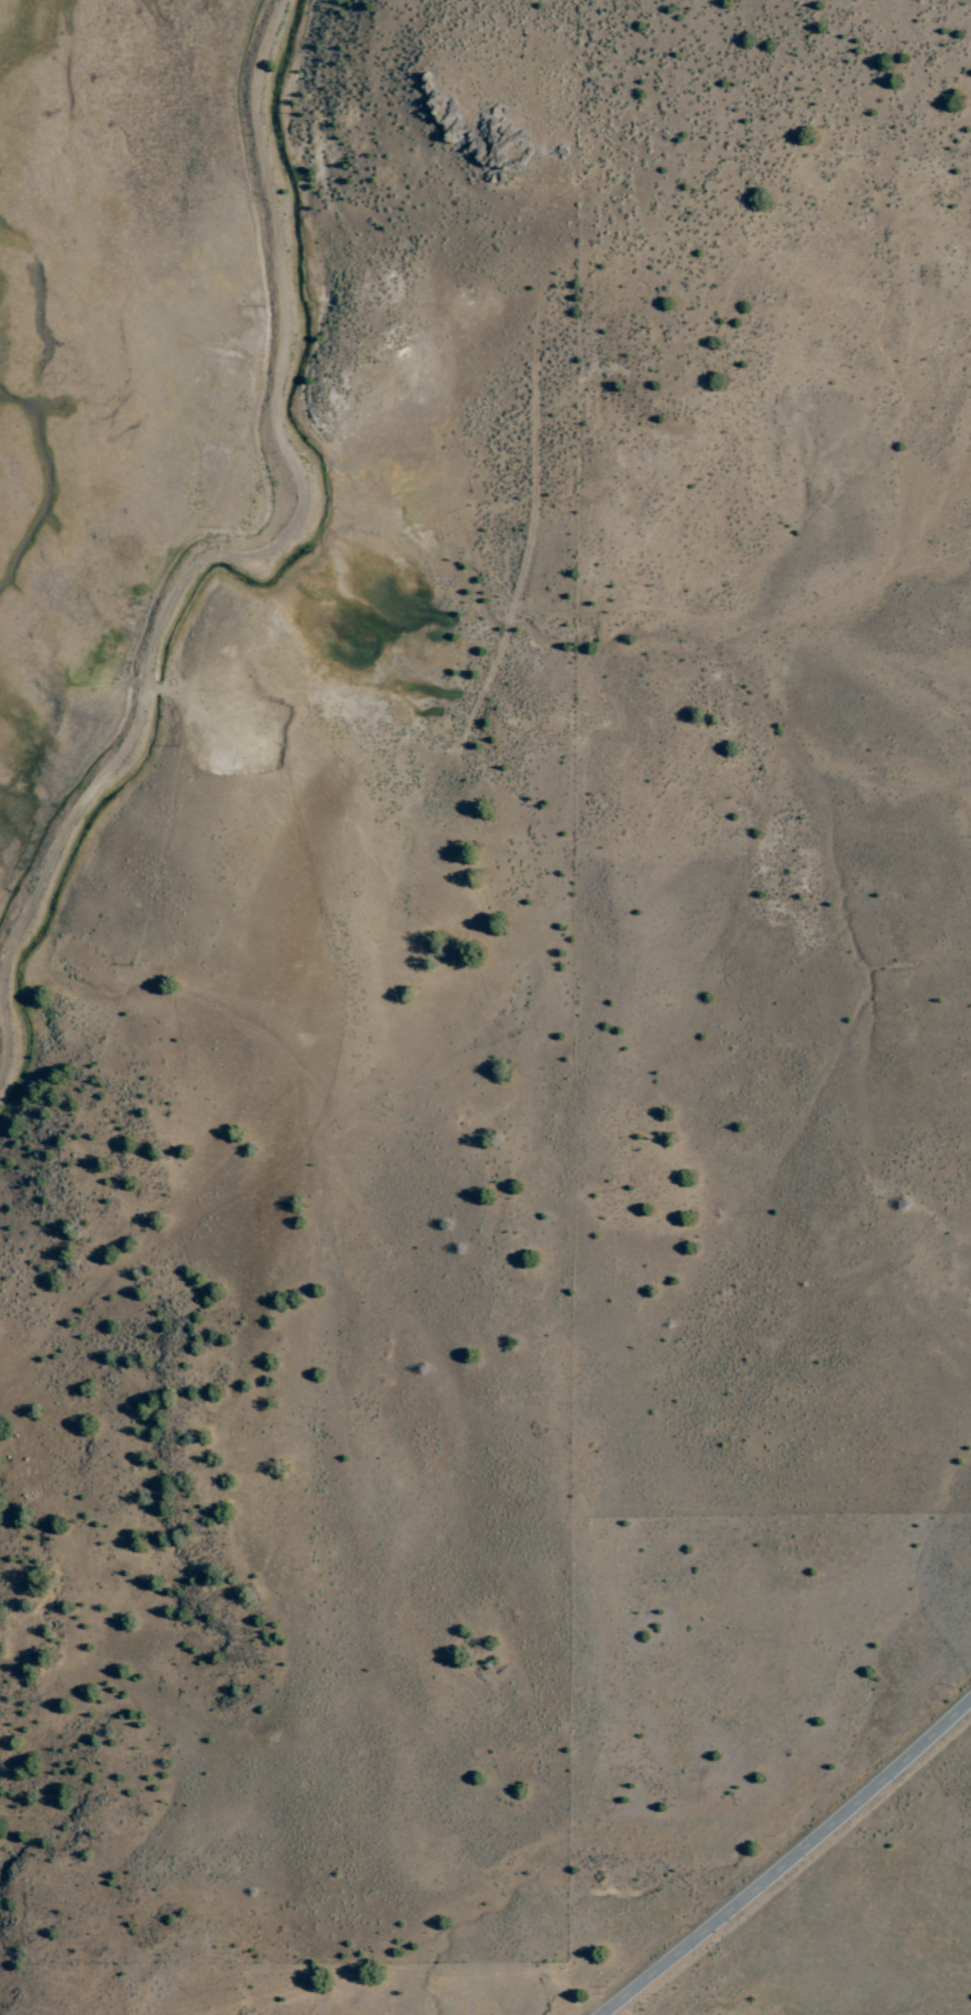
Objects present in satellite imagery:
road: (792, 1863)

